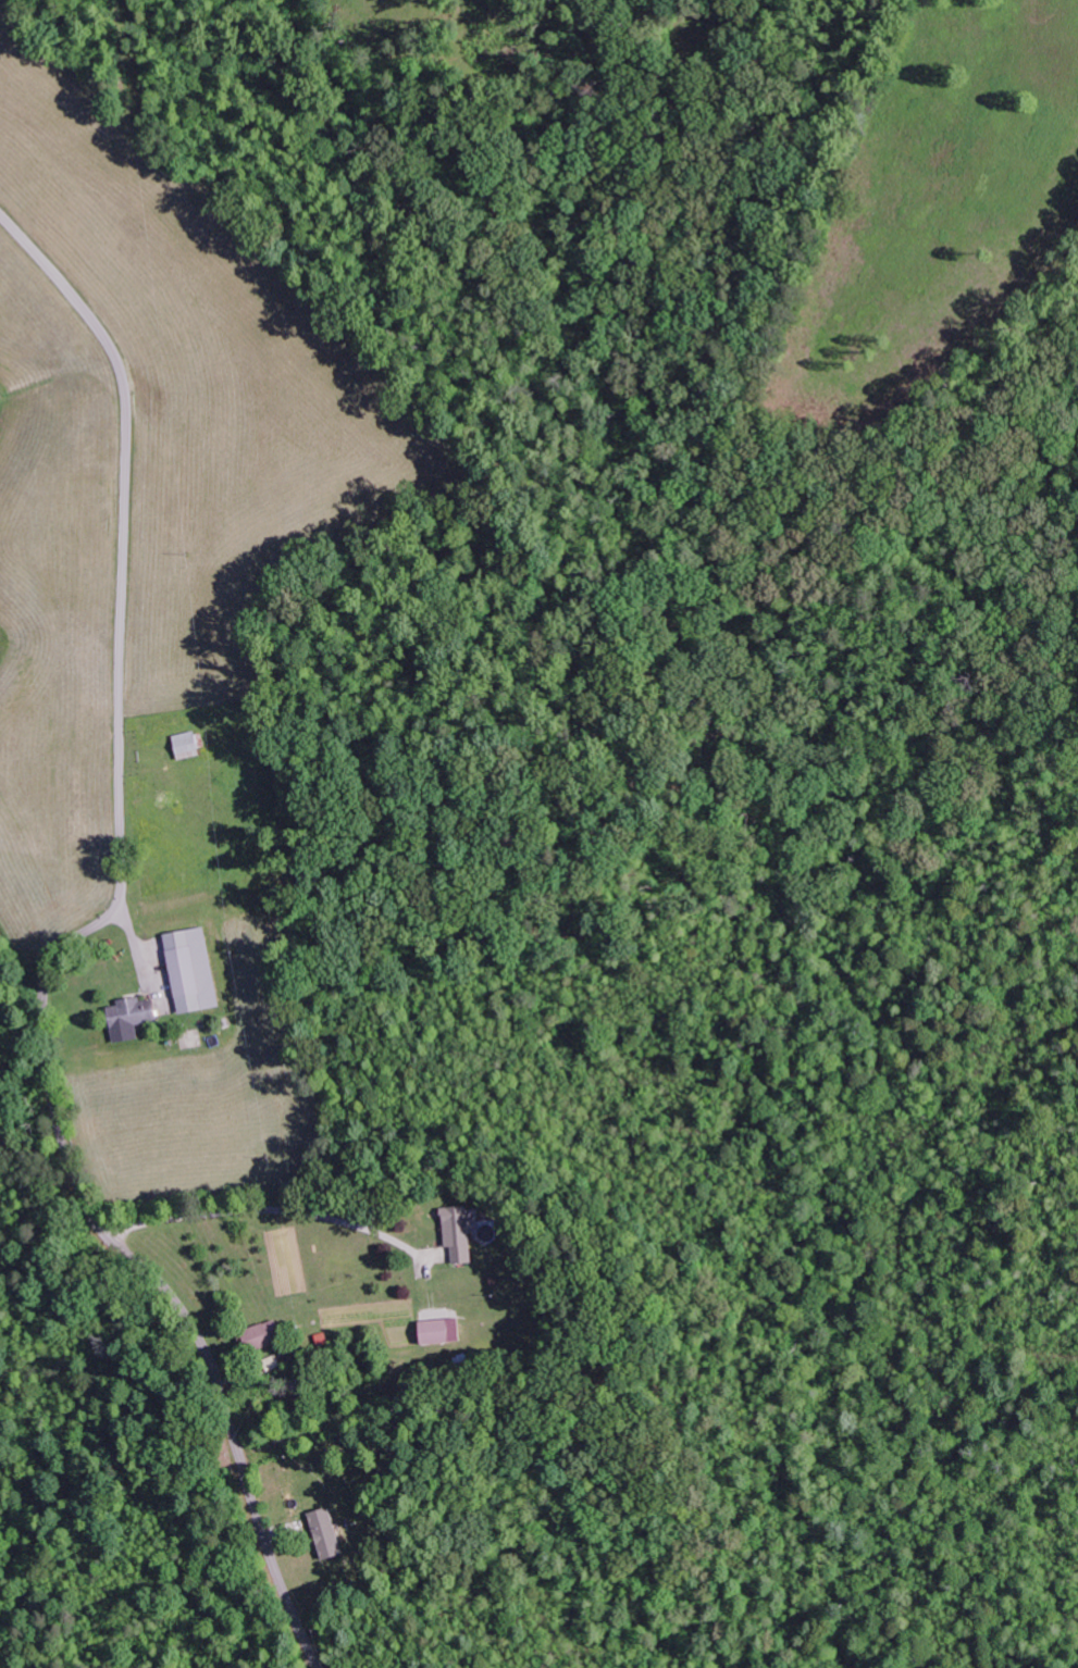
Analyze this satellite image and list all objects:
road: (69, 945)
building: (186, 973)
building: (126, 1021)
building: (454, 1235)
building: (435, 1333)
building: (258, 1339)
building: (321, 1535)

